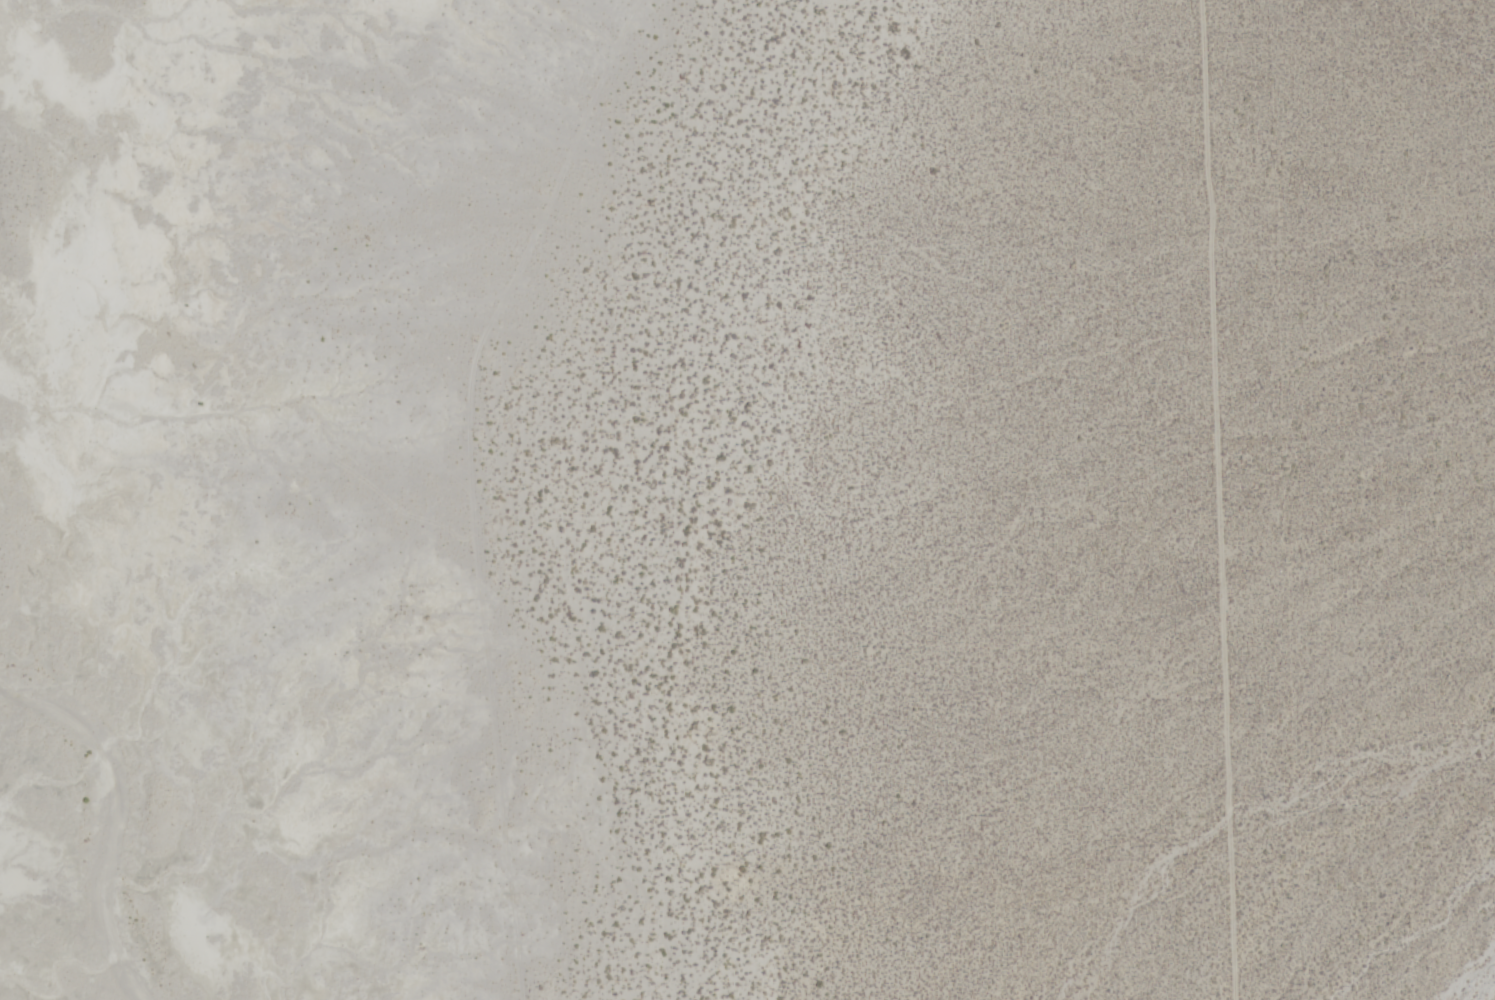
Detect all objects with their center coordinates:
road: (1222, 500)
road: (601, 548)

